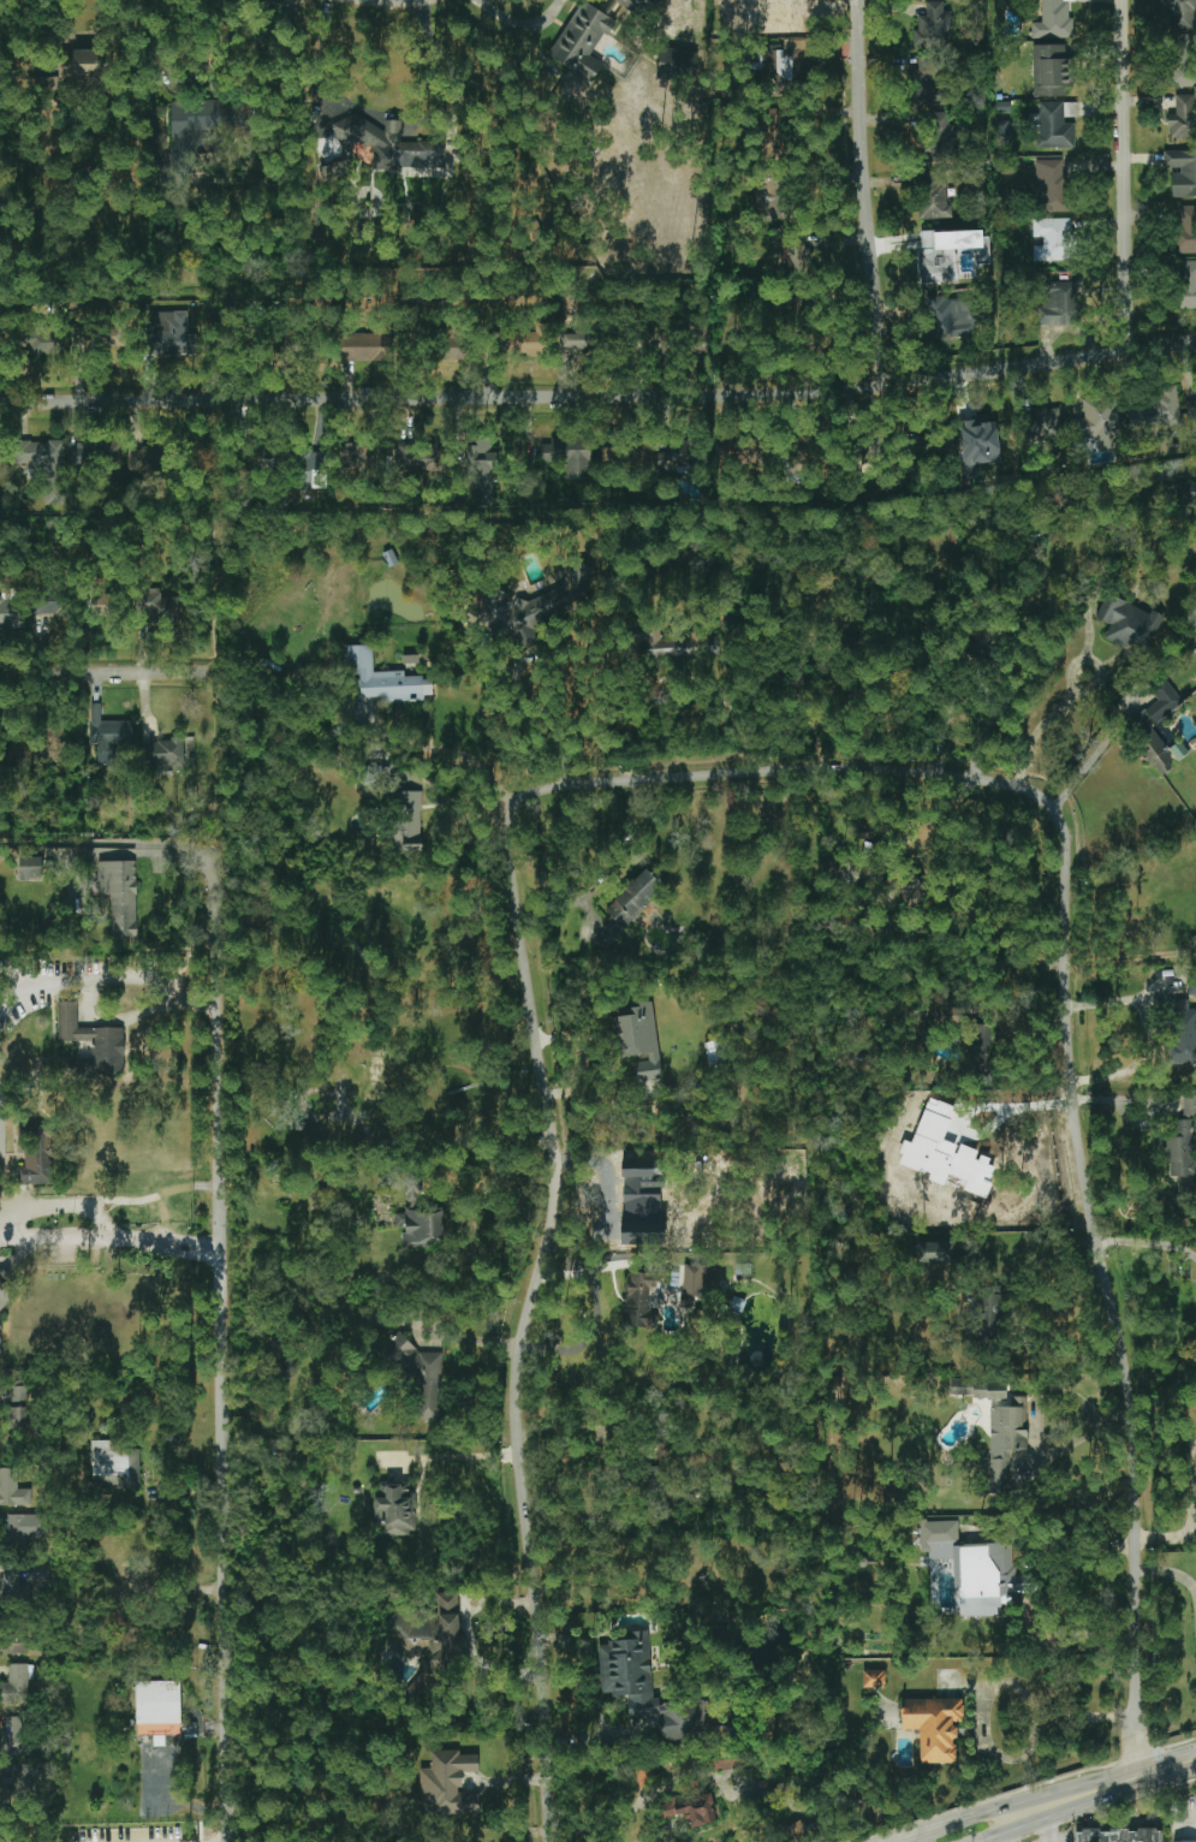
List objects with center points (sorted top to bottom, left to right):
road: (394, 4)
building: (637, 5)
building: (776, 10)
building: (1182, 14)
road: (523, 20)
building: (1053, 20)
building: (932, 26)
building: (582, 41)
building: (1184, 60)
building: (676, 64)
building: (84, 65)
building: (1049, 70)
road: (457, 72)
building: (923, 79)
building: (1183, 119)
building: (1057, 124)
building: (1002, 133)
building: (941, 136)
building: (392, 145)
building: (335, 170)
building: (1182, 172)
road: (1125, 176)
building: (1053, 186)
road: (867, 191)
building: (933, 196)
building: (774, 200)
building: (1185, 230)
building: (1053, 239)
building: (952, 255)
building: (799, 260)
building: (1188, 284)
building: (1055, 303)
building: (950, 317)
building: (101, 337)
building: (0, 338)
building: (174, 338)
building: (528, 340)
building: (578, 340)
building: (700, 340)
building: (42, 343)
building: (671, 343)
building: (457, 345)
building: (368, 346)
building: (298, 347)
road: (599, 394)
building: (1191, 408)
building: (1156, 409)
building: (1099, 421)
building: (1045, 427)
building: (978, 441)
building: (737, 453)
building: (95, 454)
building: (569, 456)
building: (405, 457)
building: (433, 457)
building: (613, 457)
building: (641, 457)
building: (679, 457)
building: (145, 458)
building: (0, 460)
building: (358, 462)
building: (44, 465)
building: (480, 465)
building: (311, 469)
building: (1185, 492)
building: (54, 605)
building: (157, 607)
building: (11, 611)
building: (1129, 625)
building: (682, 646)
road: (105, 673)
building: (382, 678)
road: (1040, 723)
building: (108, 732)
building: (1148, 732)
road: (385, 749)
building: (1178, 750)
building: (165, 754)
road: (1093, 755)
road: (755, 773)
building: (409, 820)
road: (107, 843)
road: (115, 852)
building: (31, 868)
building: (120, 896)
road: (572, 903)
building: (629, 907)
building: (1191, 986)
building: (1183, 1033)
building: (91, 1034)
building: (981, 1039)
building: (637, 1040)
building: (715, 1052)
road: (126, 1054)
building: (1189, 1106)
road: (989, 1125)
building: (945, 1153)
building: (37, 1155)
building: (1183, 1155)
road: (501, 1181)
building: (413, 1190)
building: (320, 1198)
building: (643, 1202)
road: (103, 1214)
road: (8, 1228)
building: (422, 1228)
building: (935, 1252)
road: (601, 1267)
building: (695, 1284)
building: (4, 1289)
building: (642, 1300)
building: (989, 1313)
road: (588, 1337)
building: (0, 1339)
road: (222, 1339)
road: (470, 1339)
building: (421, 1375)
building: (978, 1389)
building: (18, 1408)
building: (661, 1428)
building: (1006, 1440)
building: (286, 1454)
road: (453, 1456)
building: (115, 1463)
building: (651, 1478)
building: (12, 1489)
building: (395, 1509)
building: (26, 1527)
building: (975, 1569)
road: (1170, 1573)
building: (23, 1580)
building: (430, 1636)
building: (13, 1638)
building: (874, 1678)
building: (18, 1681)
road: (968, 1682)
road: (1002, 1683)
building: (647, 1689)
building: (157, 1707)
building: (934, 1727)
building: (17, 1745)
building: (727, 1759)
road: (1167, 1769)
building: (645, 1778)
building: (18, 1779)
building: (447, 1784)
road: (642, 1800)
road: (1014, 1805)
building: (691, 1808)
road: (1060, 1813)
road: (1049, 1830)
building: (796, 1831)
road: (201, 1832)
building: (1118, 1836)
road: (1005, 1837)
building: (1183, 1841)

